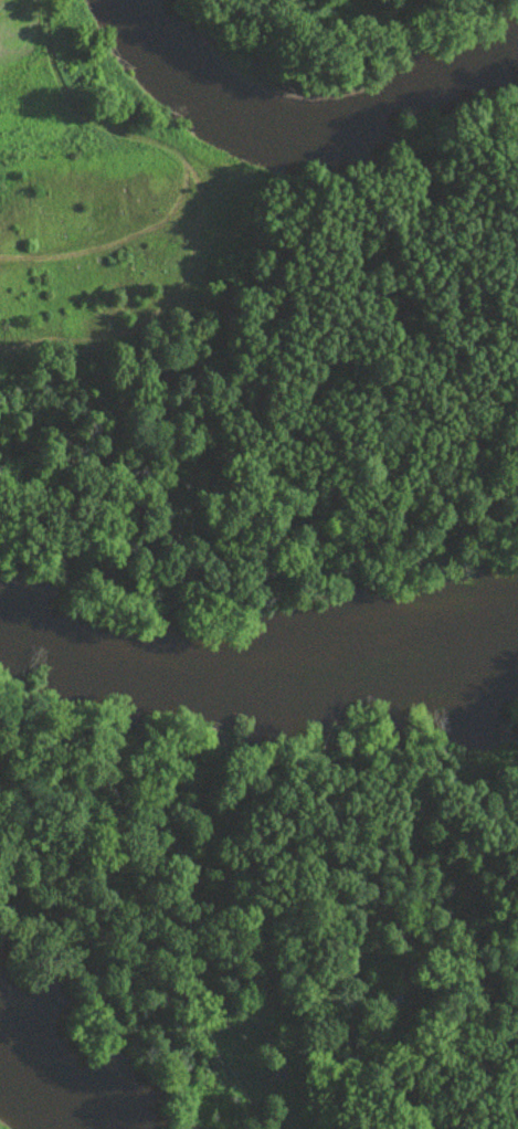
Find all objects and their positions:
river: (309, 127)
river: (257, 669)
river: (47, 1081)

